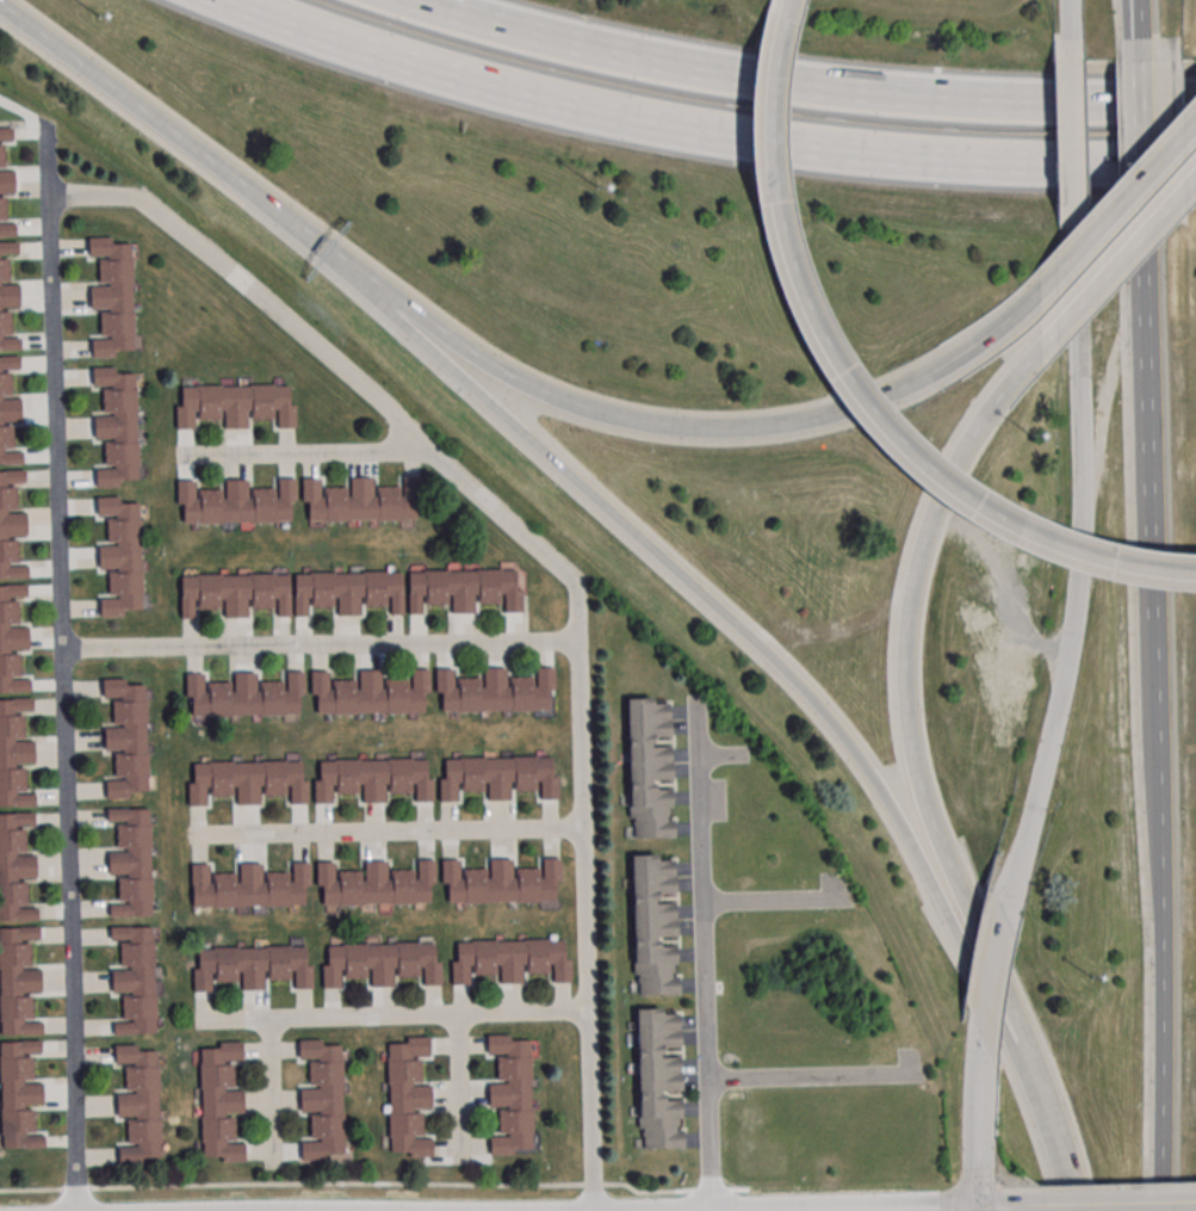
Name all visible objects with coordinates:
road: (788, 1)
road: (1138, 2)
road: (1139, 18)
road: (1072, 19)
road: (803, 82)
road: (125, 94)
road: (1141, 129)
road: (706, 130)
road: (1074, 132)
building: (6, 134)
building: (1, 155)
building: (6, 181)
building: (2, 209)
building: (7, 229)
road: (1082, 237)
road: (315, 243)
building: (8, 248)
building: (4, 270)
road: (1097, 283)
building: (8, 296)
building: (112, 297)
building: (7, 333)
building: (8, 363)
road: (500, 366)
road: (348, 373)
road: (854, 385)
road: (1147, 397)
building: (233, 404)
road: (497, 408)
road: (800, 415)
building: (7, 421)
building: (117, 426)
road: (304, 452)
building: (359, 501)
building: (235, 502)
building: (11, 525)
building: (120, 556)
road: (1079, 561)
building: (464, 588)
building: (347, 591)
building: (234, 593)
building: (11, 638)
road: (320, 643)
road: (62, 665)
building: (494, 691)
building: (368, 693)
building: (243, 696)
road: (909, 734)
building: (128, 737)
road: (1158, 747)
building: (14, 753)
road: (866, 765)
building: (650, 766)
building: (496, 776)
building: (371, 779)
building: (246, 780)
road: (384, 832)
building: (131, 861)
building: (14, 867)
building: (498, 882)
building: (374, 884)
building: (247, 886)
road: (773, 897)
building: (653, 923)
road: (585, 925)
road: (704, 956)
road: (996, 956)
building: (509, 959)
building: (379, 963)
building: (252, 966)
building: (136, 980)
building: (17, 981)
road: (392, 1014)
road: (1163, 1068)
road: (816, 1075)
building: (658, 1077)
road: (457, 1087)
road: (271, 1090)
building: (18, 1094)
building: (512, 1094)
building: (408, 1096)
building: (323, 1099)
building: (219, 1102)
building: (140, 1104)
road: (974, 1114)
road: (1058, 1142)
road: (1120, 1201)
road: (904, 1207)
road: (977, 1207)
road: (874, 1210)

